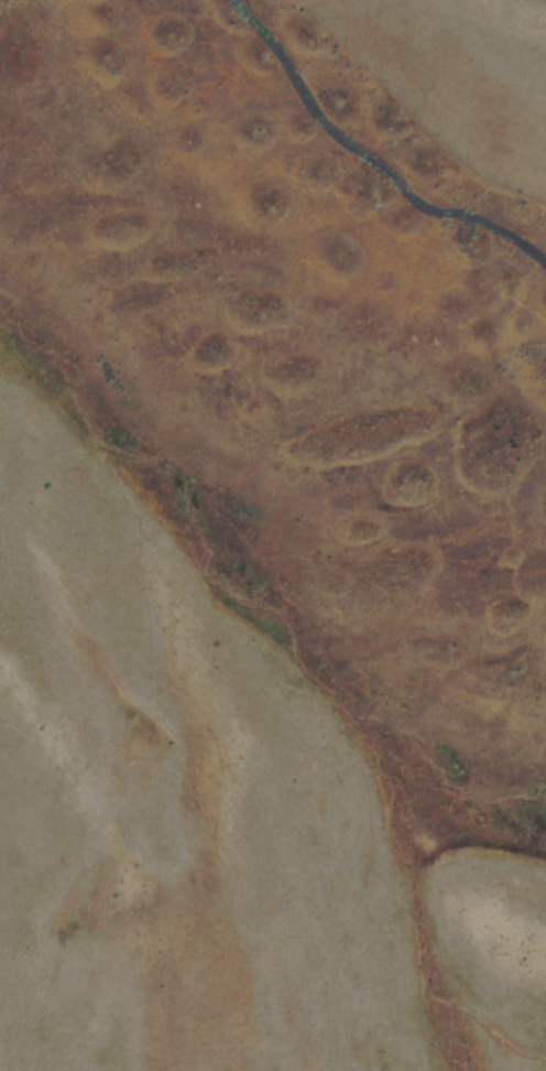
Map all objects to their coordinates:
road: (370, 158)

